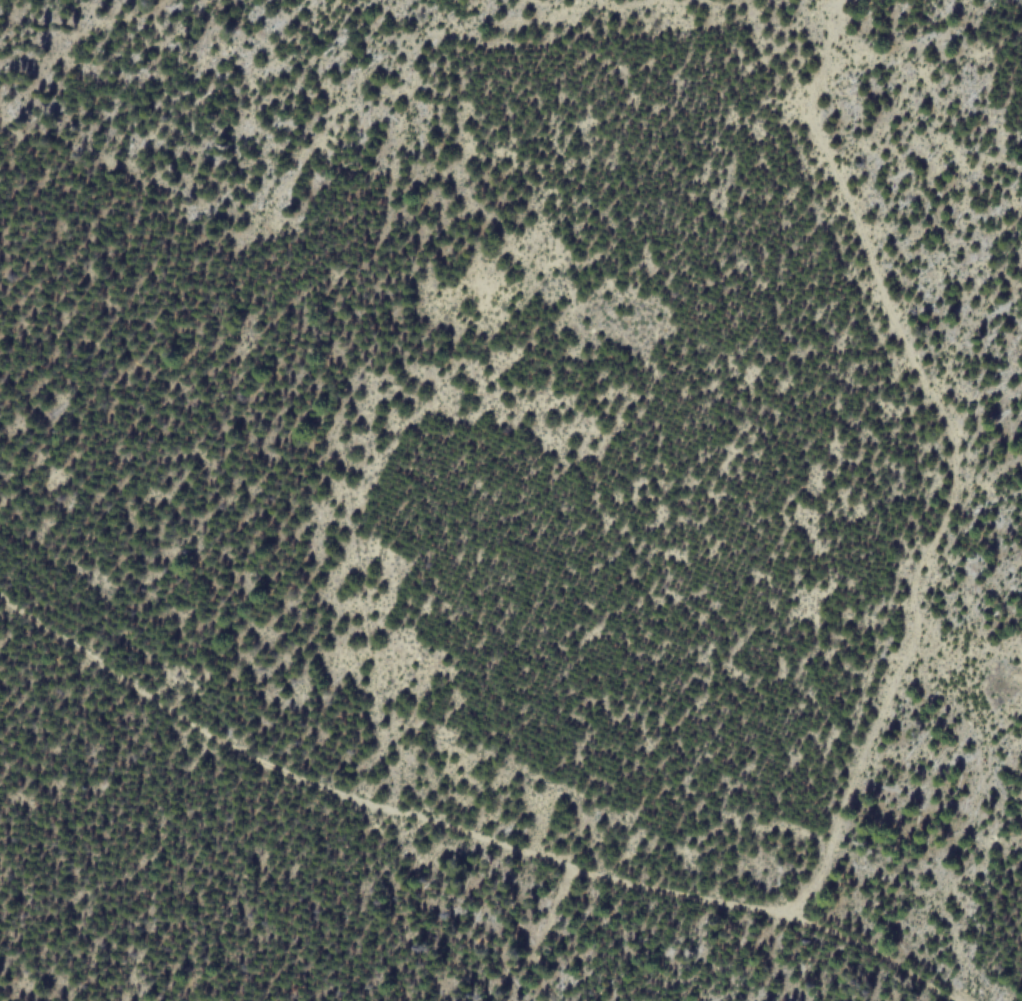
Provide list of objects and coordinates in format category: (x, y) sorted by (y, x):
road: (462, 832)

